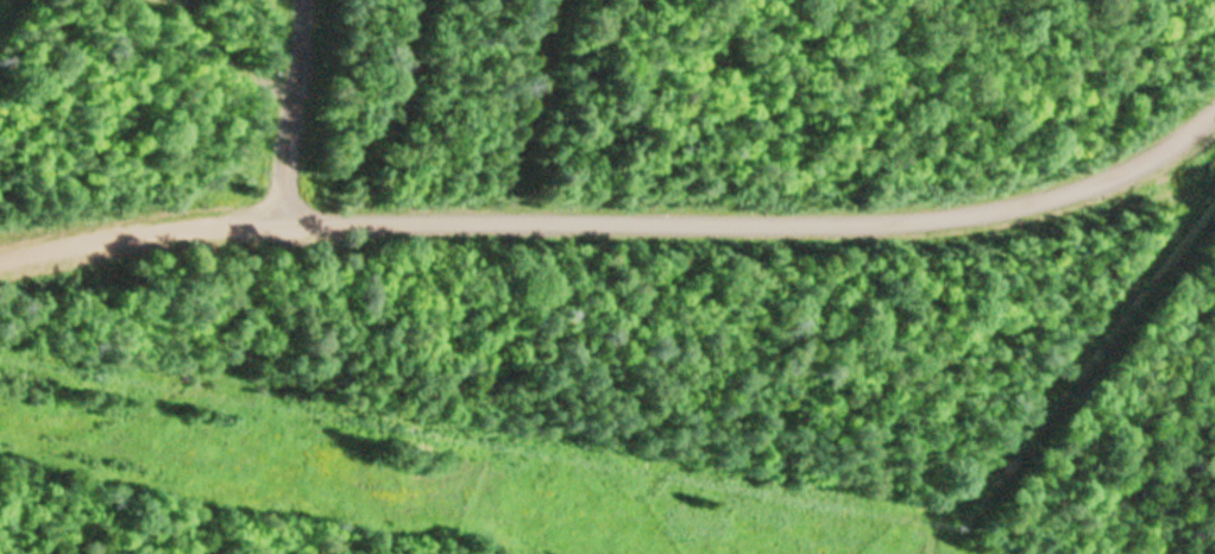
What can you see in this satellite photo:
road: (285, 112)
road: (616, 220)
ski resort: (606, 276)

